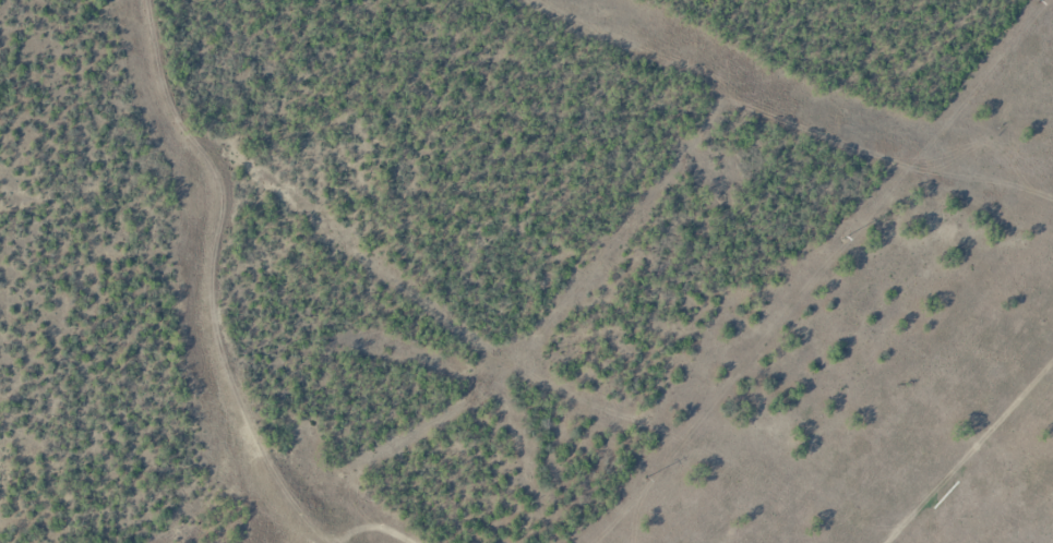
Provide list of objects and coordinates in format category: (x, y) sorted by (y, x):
power tower: (1043, 2)
power tower: (848, 234)
power tower: (645, 479)

